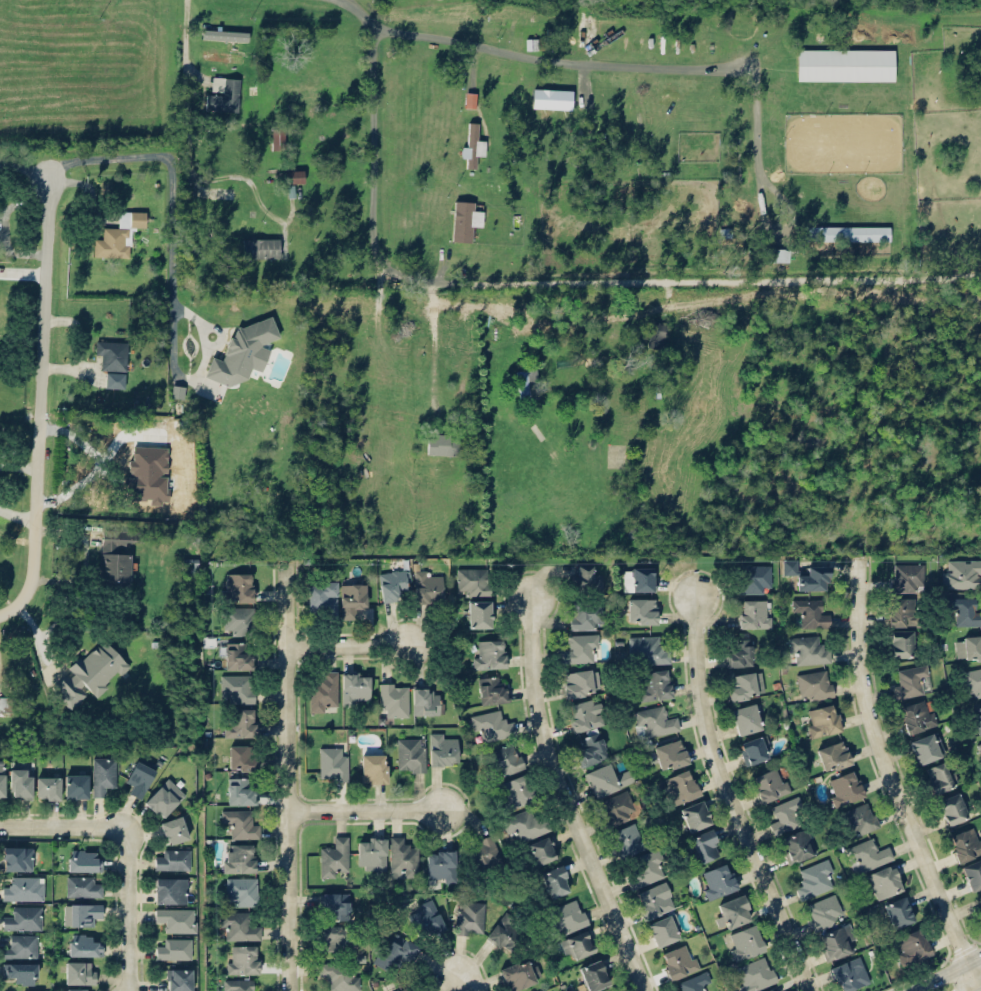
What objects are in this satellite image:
building: (225, 35)
building: (222, 56)
building: (844, 64)
road: (626, 66)
building: (223, 93)
building: (552, 98)
building: (470, 99)
building: (277, 137)
building: (473, 143)
road: (189, 159)
road: (371, 164)
road: (27, 166)
building: (293, 175)
road: (171, 198)
building: (465, 219)
building: (845, 232)
building: (118, 234)
building: (261, 247)
building: (777, 254)
building: (654, 333)
road: (434, 343)
building: (243, 351)
building: (112, 361)
building: (527, 383)
road: (47, 399)
building: (442, 443)
building: (164, 466)
building: (172, 495)
building: (116, 555)
building: (192, 566)
building: (961, 573)
building: (584, 574)
building: (806, 574)
building: (753, 577)
building: (906, 577)
building: (639, 578)
building: (472, 581)
building: (393, 583)
building: (237, 586)
building: (428, 586)
building: (322, 597)
building: (352, 599)
building: (641, 610)
building: (811, 611)
building: (902, 611)
building: (965, 611)
building: (480, 613)
building: (752, 613)
building: (585, 616)
building: (239, 620)
road: (352, 643)
building: (900, 643)
building: (580, 647)
building: (969, 647)
building: (647, 649)
building: (807, 649)
building: (739, 652)
building: (489, 653)
building: (238, 655)
building: (90, 673)
building: (909, 680)
building: (972, 681)
building: (580, 682)
building: (654, 684)
building: (814, 684)
building: (744, 685)
building: (237, 687)
building: (355, 687)
building: (492, 689)
building: (324, 691)
building: (394, 699)
building: (425, 700)
building: (5, 704)
building: (584, 713)
building: (916, 715)
building: (977, 717)
building: (744, 718)
building: (822, 719)
building: (654, 720)
building: (241, 722)
building: (492, 724)
building: (980, 742)
building: (924, 747)
building: (443, 748)
building: (590, 749)
building: (752, 749)
building: (670, 753)
building: (411, 754)
building: (833, 755)
building: (242, 757)
building: (504, 759)
building: (332, 762)
building: (373, 767)
building: (103, 774)
road: (295, 776)
building: (939, 776)
building: (139, 777)
building: (607, 778)
building: (2, 779)
road: (890, 781)
building: (20, 782)
building: (770, 783)
building: (680, 785)
building: (75, 786)
building: (48, 787)
building: (844, 787)
building: (240, 791)
building: (514, 791)
building: (164, 797)
road: (729, 797)
road: (566, 800)
building: (616, 807)
building: (952, 807)
road: (370, 808)
building: (695, 814)
building: (785, 815)
building: (861, 818)
building: (241, 823)
building: (524, 823)
building: (173, 829)
building: (630, 838)
building: (797, 844)
building: (964, 844)
building: (705, 845)
road: (127, 848)
building: (482, 850)
building: (541, 850)
building: (371, 853)
building: (867, 854)
building: (402, 856)
building: (16, 857)
building: (239, 857)
building: (334, 857)
building: (84, 859)
building: (173, 859)
building: (441, 865)
building: (645, 867)
building: (972, 873)
building: (814, 878)
building: (717, 879)
building: (555, 880)
building: (884, 880)
building: (82, 886)
building: (24, 888)
building: (170, 889)
building: (242, 890)
building: (980, 896)
building: (654, 899)
building: (335, 904)
building: (979, 906)
building: (734, 910)
building: (823, 911)
building: (898, 911)
building: (83, 913)
building: (567, 915)
building: (23, 917)
building: (177, 918)
building: (426, 918)
building: (469, 918)
building: (238, 925)
building: (664, 928)
building: (503, 933)
building: (336, 937)
building: (745, 941)
building: (837, 941)
building: (83, 945)
building: (577, 945)
building: (21, 946)
building: (913, 946)
building: (174, 948)
building: (395, 951)
building: (242, 958)
building: (679, 960)
building: (21, 971)
building: (79, 971)
road: (943, 972)
building: (519, 973)
building: (753, 973)
building: (848, 973)
building: (340, 974)
building: (593, 974)
building: (178, 979)
road: (464, 981)
building: (693, 982)
building: (238, 984)
building: (77, 989)
building: (402, 989)
building: (543, 990)
building: (768, 990)

